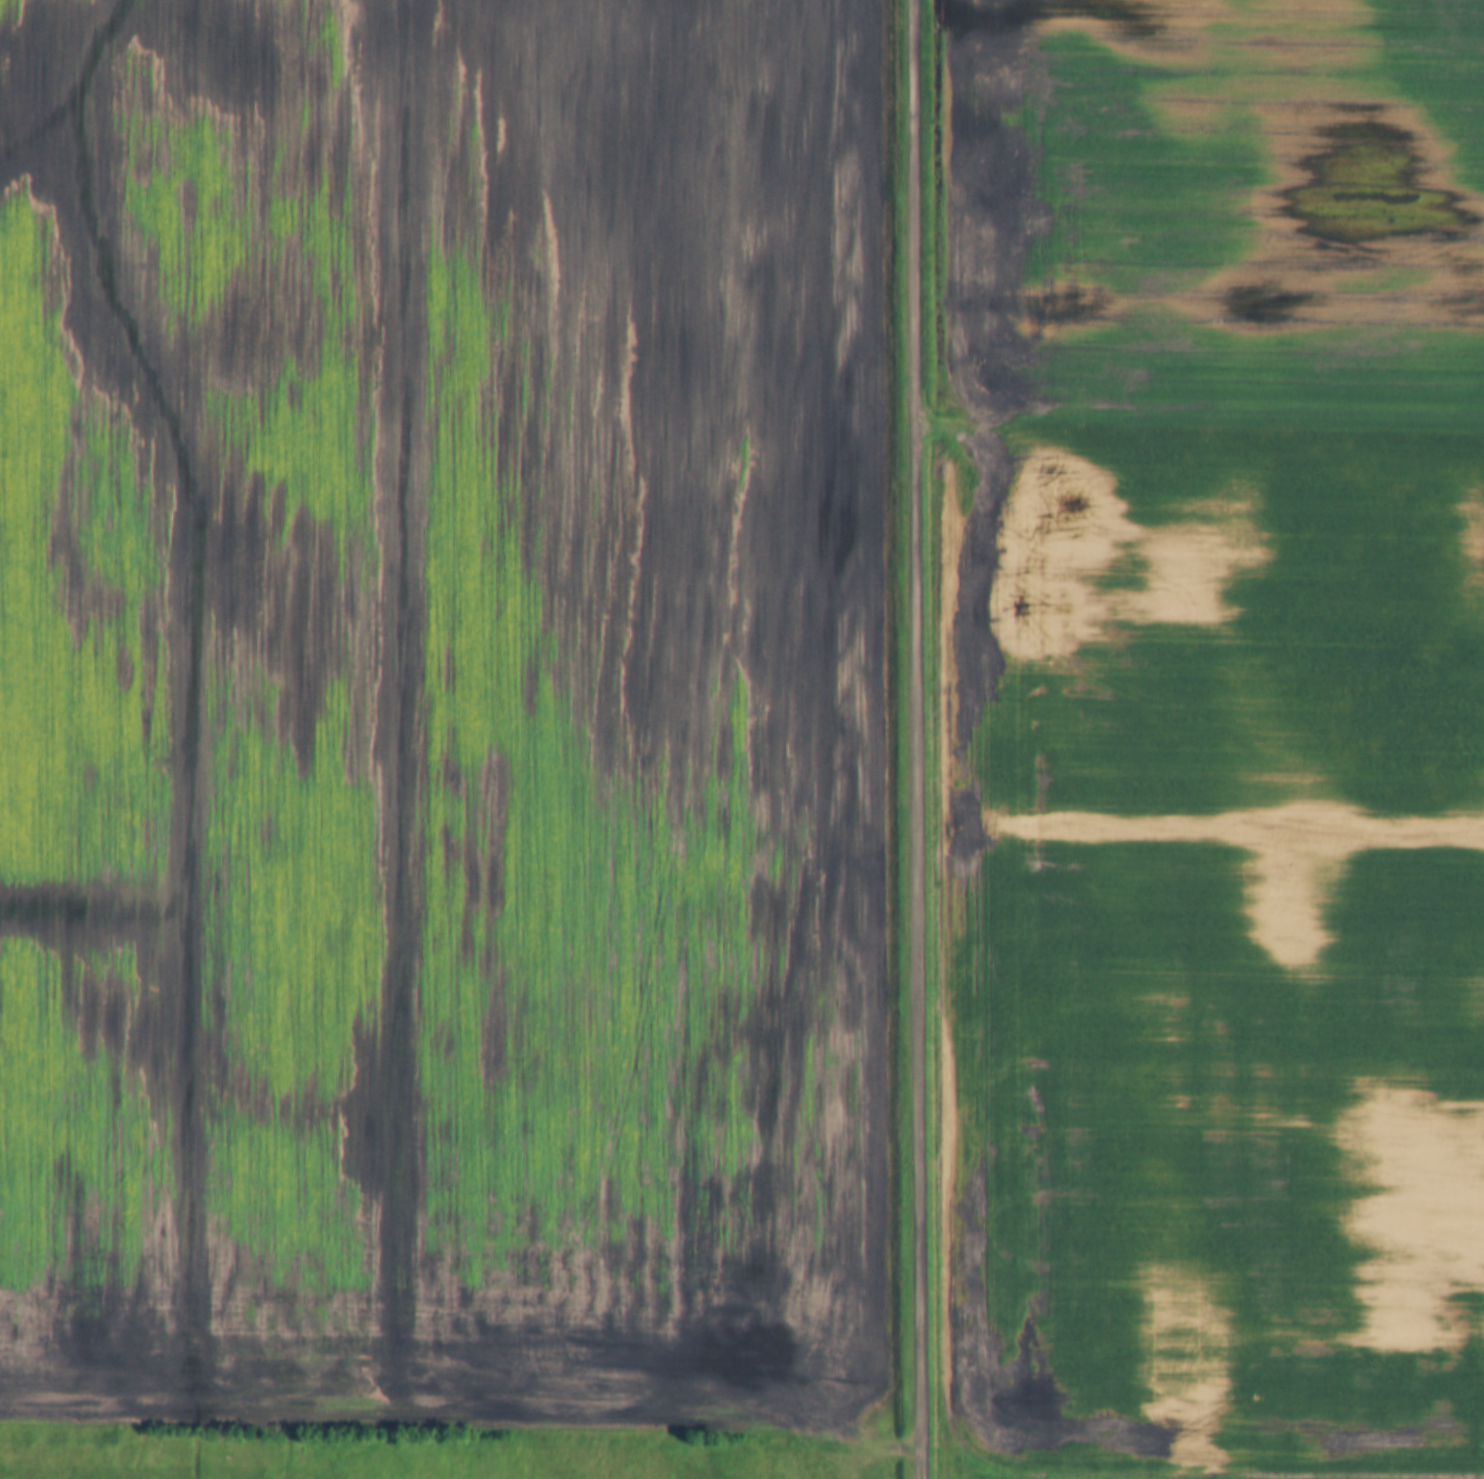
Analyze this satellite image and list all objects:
road: (921, 739)

